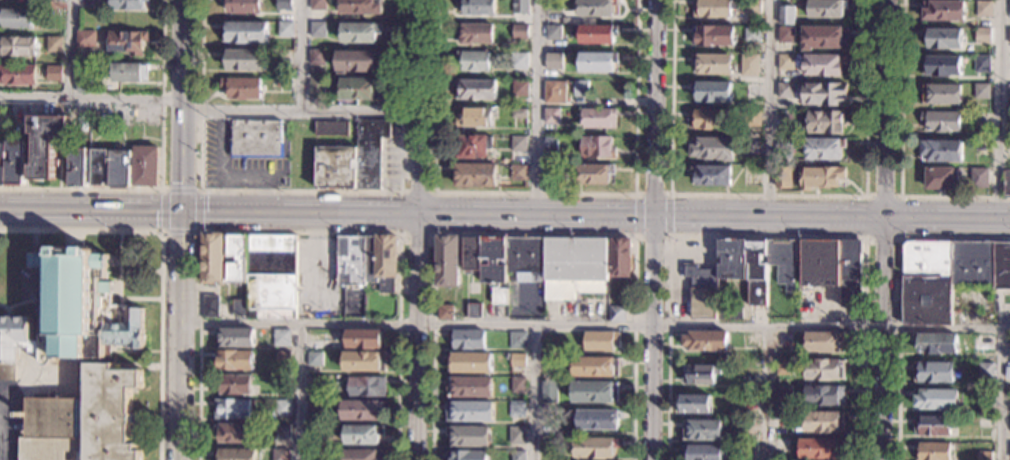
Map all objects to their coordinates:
building: (61, 0)
building: (22, 1)
building: (126, 5)
building: (285, 5)
building: (319, 5)
building: (244, 6)
building: (555, 6)
building: (362, 7)
building: (477, 7)
building: (520, 7)
building: (753, 7)
building: (597, 8)
building: (714, 8)
building: (827, 9)
building: (984, 9)
building: (1009, 9)
building: (943, 10)
building: (786, 16)
building: (16, 19)
building: (565, 21)
building: (287, 29)
building: (318, 29)
building: (520, 31)
building: (245, 32)
building: (553, 32)
building: (361, 33)
building: (476, 34)
building: (594, 34)
building: (752, 34)
building: (785, 34)
building: (982, 35)
building: (713, 36)
building: (1009, 37)
building: (824, 38)
building: (944, 38)
building: (86, 39)
building: (126, 43)
building: (54, 44)
building: (18, 46)
road: (71, 49)
road: (303, 55)
building: (318, 57)
building: (284, 58)
building: (245, 60)
building: (358, 61)
building: (474, 61)
building: (519, 61)
building: (554, 61)
building: (785, 62)
building: (598, 63)
building: (713, 64)
building: (981, 64)
building: (824, 65)
building: (941, 66)
building: (748, 68)
building: (129, 73)
building: (17, 74)
building: (54, 74)
building: (284, 83)
building: (84, 84)
building: (99, 85)
building: (581, 87)
building: (317, 88)
building: (520, 88)
building: (242, 89)
building: (359, 89)
building: (477, 89)
building: (785, 90)
building: (753, 91)
building: (981, 91)
building: (555, 92)
building: (712, 92)
building: (1008, 92)
building: (824, 94)
building: (940, 94)
road: (92, 98)
road: (536, 106)
road: (769, 107)
road: (657, 108)
road: (1000, 108)
road: (304, 111)
building: (518, 112)
building: (552, 116)
building: (475, 118)
building: (599, 118)
building: (752, 118)
building: (785, 118)
building: (708, 119)
building: (981, 119)
building: (1008, 119)
building: (78, 120)
building: (826, 122)
building: (941, 122)
building: (984, 136)
building: (256, 138)
building: (46, 144)
building: (520, 144)
building: (551, 144)
building: (474, 147)
building: (751, 147)
building: (598, 148)
building: (713, 148)
building: (784, 148)
building: (824, 149)
building: (1008, 149)
building: (2, 150)
building: (941, 151)
road: (900, 152)
building: (339, 158)
road: (222, 160)
building: (15, 163)
road: (885, 164)
building: (145, 166)
building: (78, 167)
building: (99, 167)
building: (119, 169)
building: (518, 172)
building: (552, 172)
building: (593, 174)
road: (161, 175)
building: (711, 175)
building: (2, 176)
building: (477, 176)
road: (252, 177)
building: (783, 177)
building: (979, 177)
building: (821, 178)
building: (940, 179)
building: (1007, 182)
road: (300, 191)
road: (535, 192)
road: (652, 193)
road: (768, 194)
traffic signals: (181, 210)
road: (328, 210)
road: (635, 213)
road: (669, 213)
road: (770, 216)
road: (947, 216)
road: (181, 229)
road: (299, 230)
road: (423, 230)
road: (197, 232)
road: (435, 232)
road: (534, 233)
road: (651, 234)
road: (765, 236)
road: (900, 238)
building: (212, 258)
building: (237, 258)
building: (621, 258)
building: (368, 261)
building: (447, 261)
building: (539, 264)
road: (159, 266)
building: (834, 268)
building: (742, 273)
building: (948, 276)
building: (270, 278)
road: (898, 294)
building: (210, 307)
building: (474, 311)
building: (446, 313)
building: (730, 313)
building: (72, 314)
building: (617, 315)
road: (532, 325)
road: (946, 329)
building: (235, 338)
building: (281, 338)
road: (654, 338)
building: (365, 339)
building: (469, 339)
building: (517, 340)
building: (750, 340)
building: (784, 340)
building: (315, 341)
building: (600, 341)
building: (706, 341)
building: (824, 341)
building: (548, 343)
building: (983, 343)
building: (936, 344)
building: (283, 358)
building: (314, 359)
building: (235, 360)
building: (517, 360)
building: (364, 362)
building: (470, 362)
building: (549, 365)
building: (595, 367)
building: (783, 367)
building: (824, 370)
building: (985, 371)
building: (933, 372)
building: (700, 374)
building: (518, 384)
building: (233, 385)
building: (366, 386)
building: (470, 387)
building: (549, 391)
road: (298, 392)
building: (594, 392)
road: (534, 393)
road: (767, 393)
building: (783, 394)
road: (881, 394)
road: (1000, 395)
building: (824, 396)
building: (936, 399)
building: (692, 404)
building: (282, 408)
building: (314, 408)
building: (232, 409)
building: (516, 409)
building: (362, 410)
building: (470, 411)
parking lot: (11, 419)
building: (84, 420)
building: (597, 420)
building: (824, 422)
building: (932, 425)
building: (749, 428)
building: (702, 430)
building: (282, 432)
building: (313, 432)
building: (234, 433)
building: (363, 434)
building: (517, 435)
building: (468, 436)
building: (781, 445)
building: (549, 446)
building: (595, 448)
building: (820, 449)
building: (933, 451)
building: (704, 452)
building: (234, 454)
building: (280, 454)
building: (313, 455)
building: (364, 455)
building: (467, 455)
building: (518, 455)
building: (984, 456)

